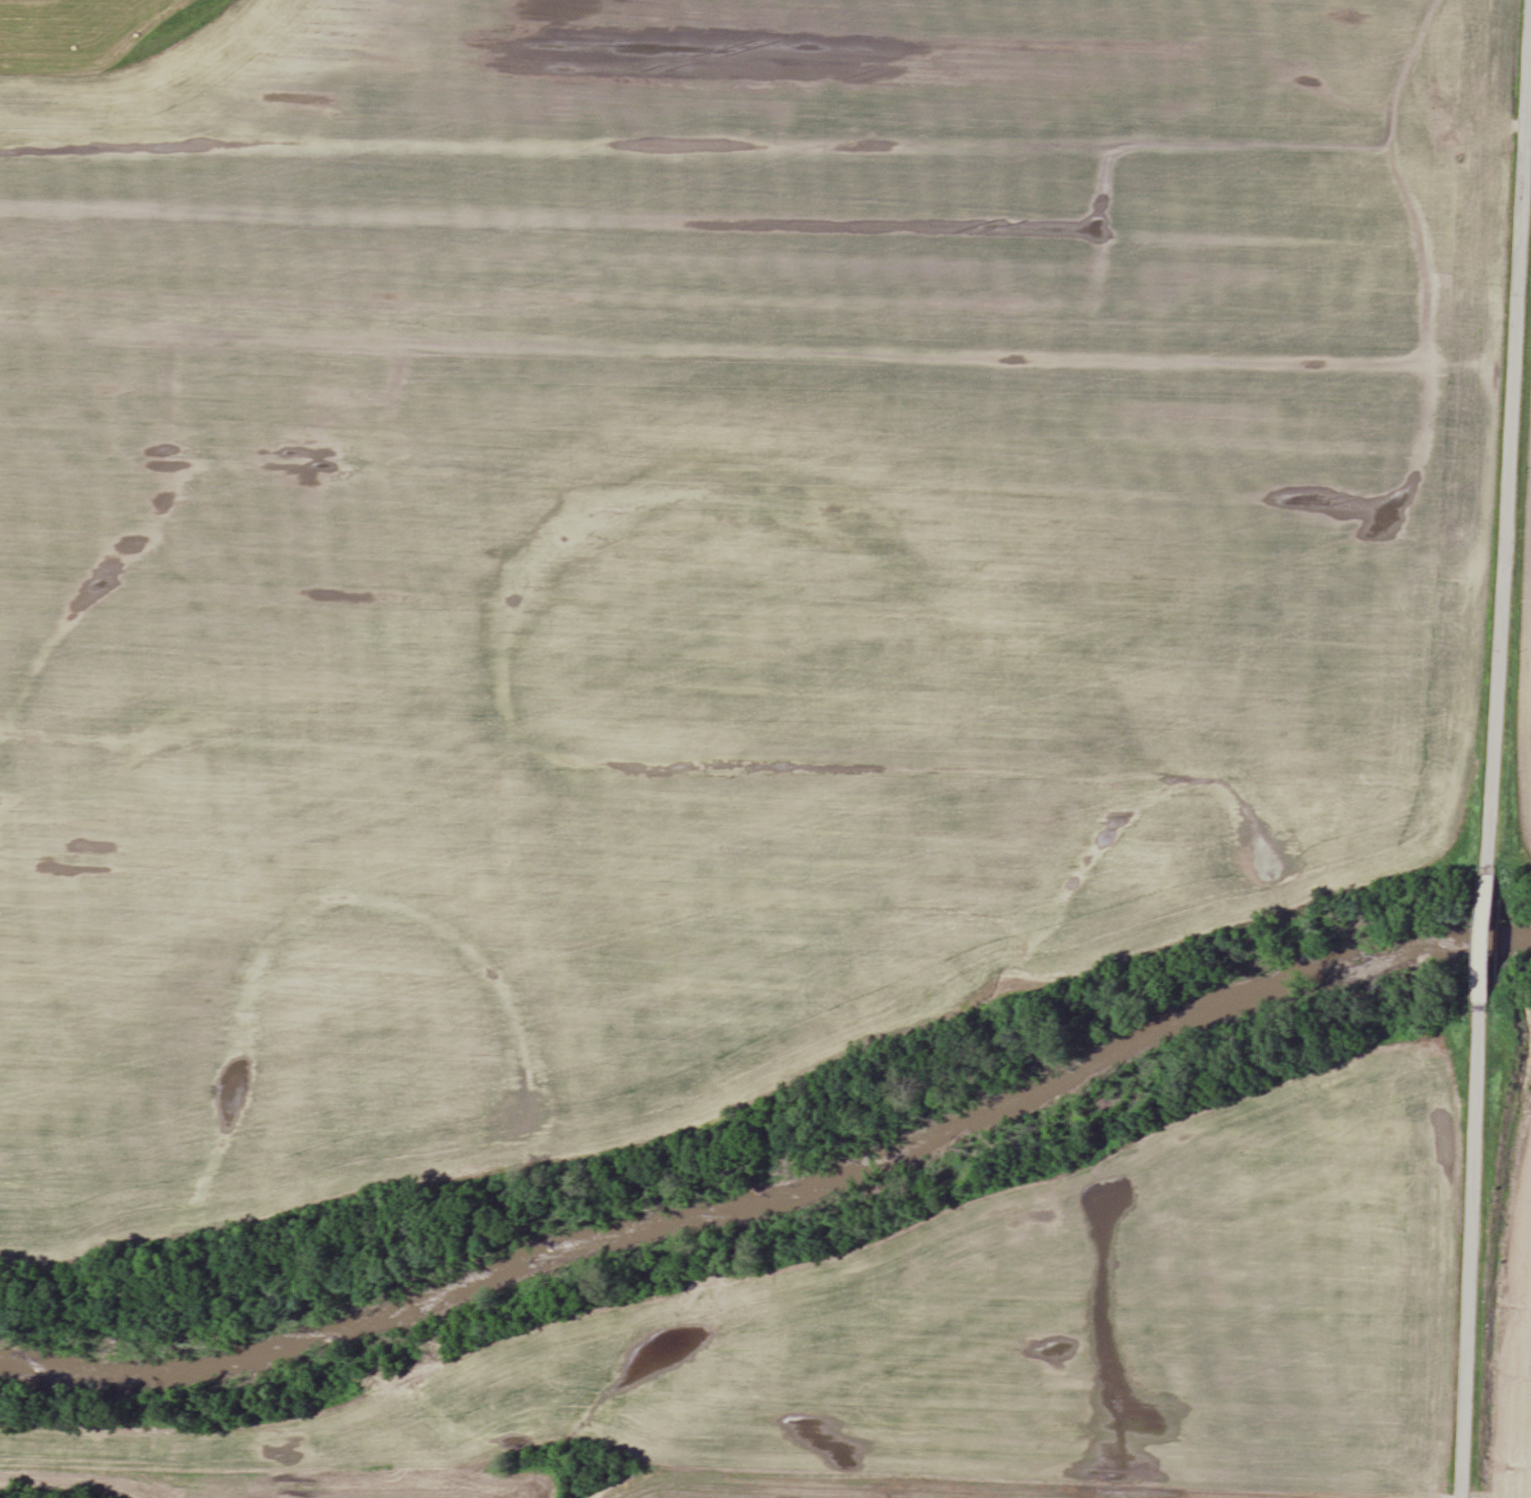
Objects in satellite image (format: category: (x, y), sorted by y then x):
crop: (698, 548)
crop: (1522, 619)
road: (1495, 749)
river: (777, 1202)
crop: (1514, 1339)
crop: (301, 1481)
crop: (907, 1485)

